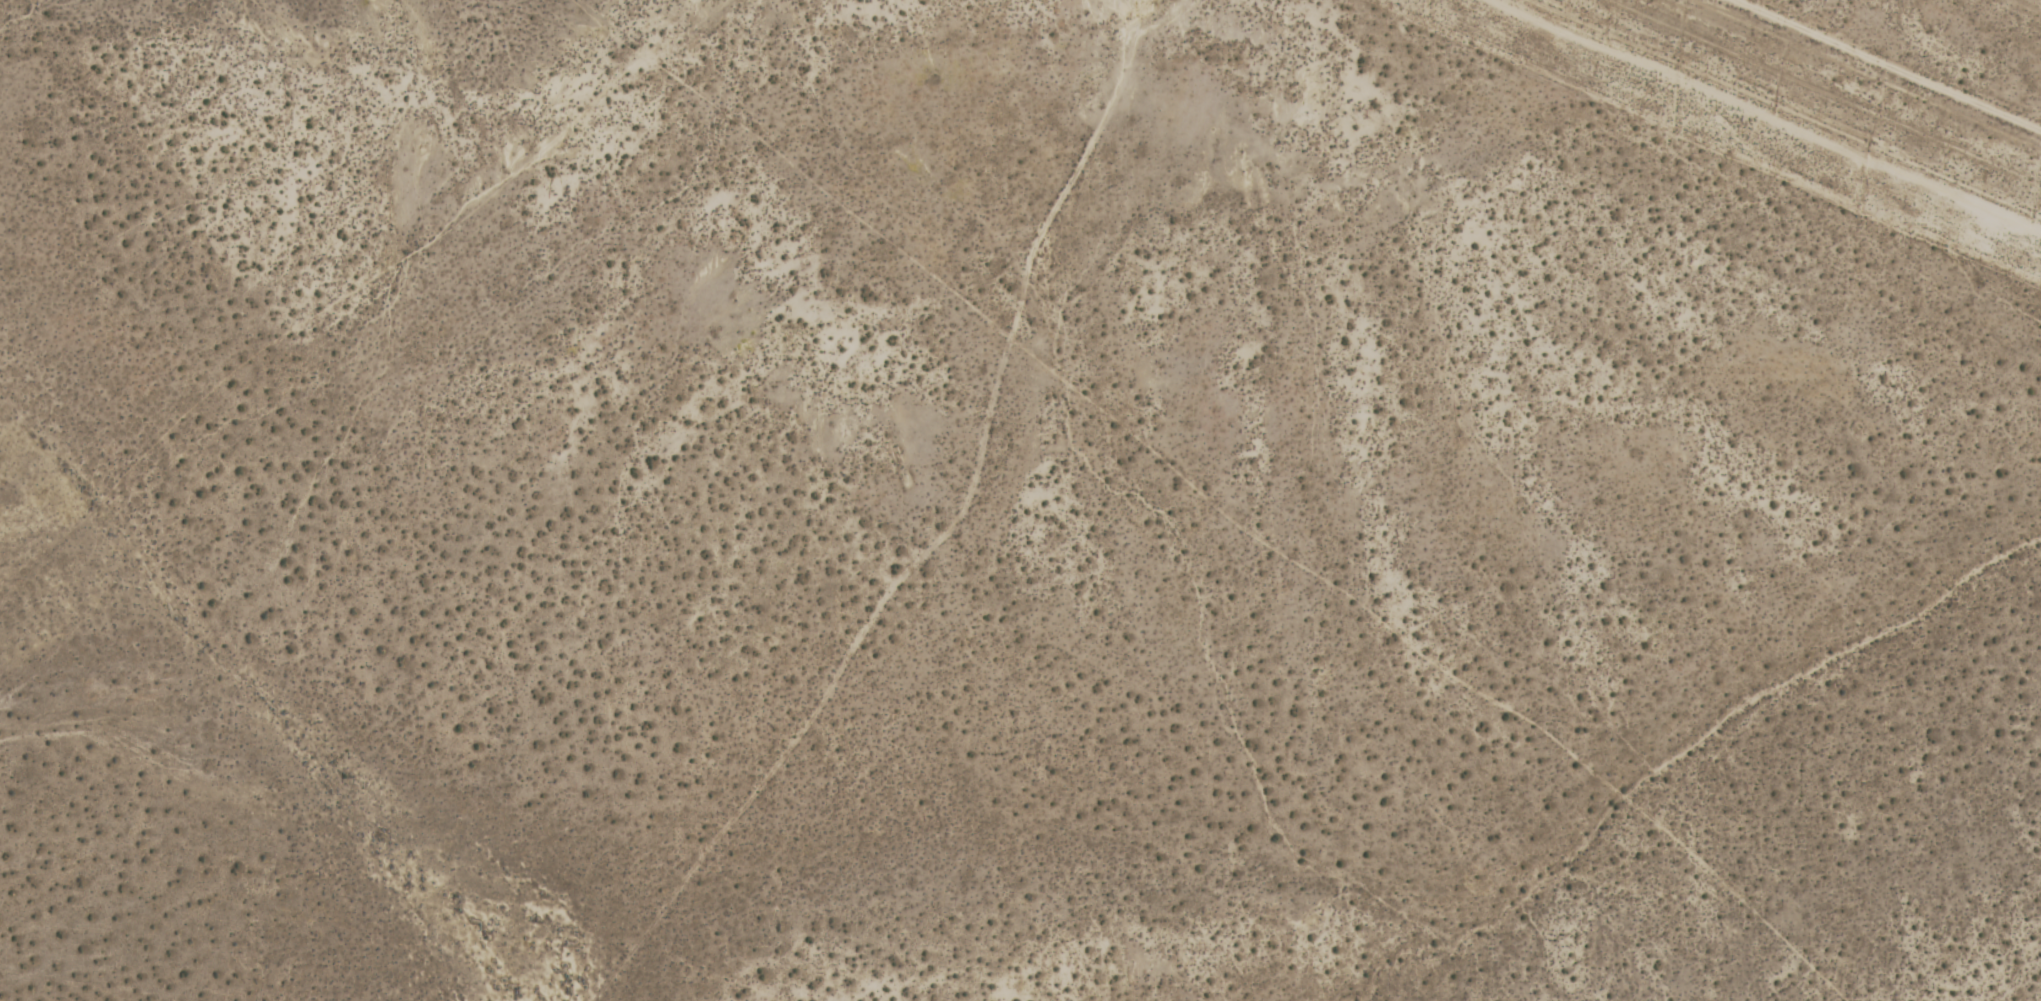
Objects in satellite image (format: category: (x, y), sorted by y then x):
road: (1886, 66)

